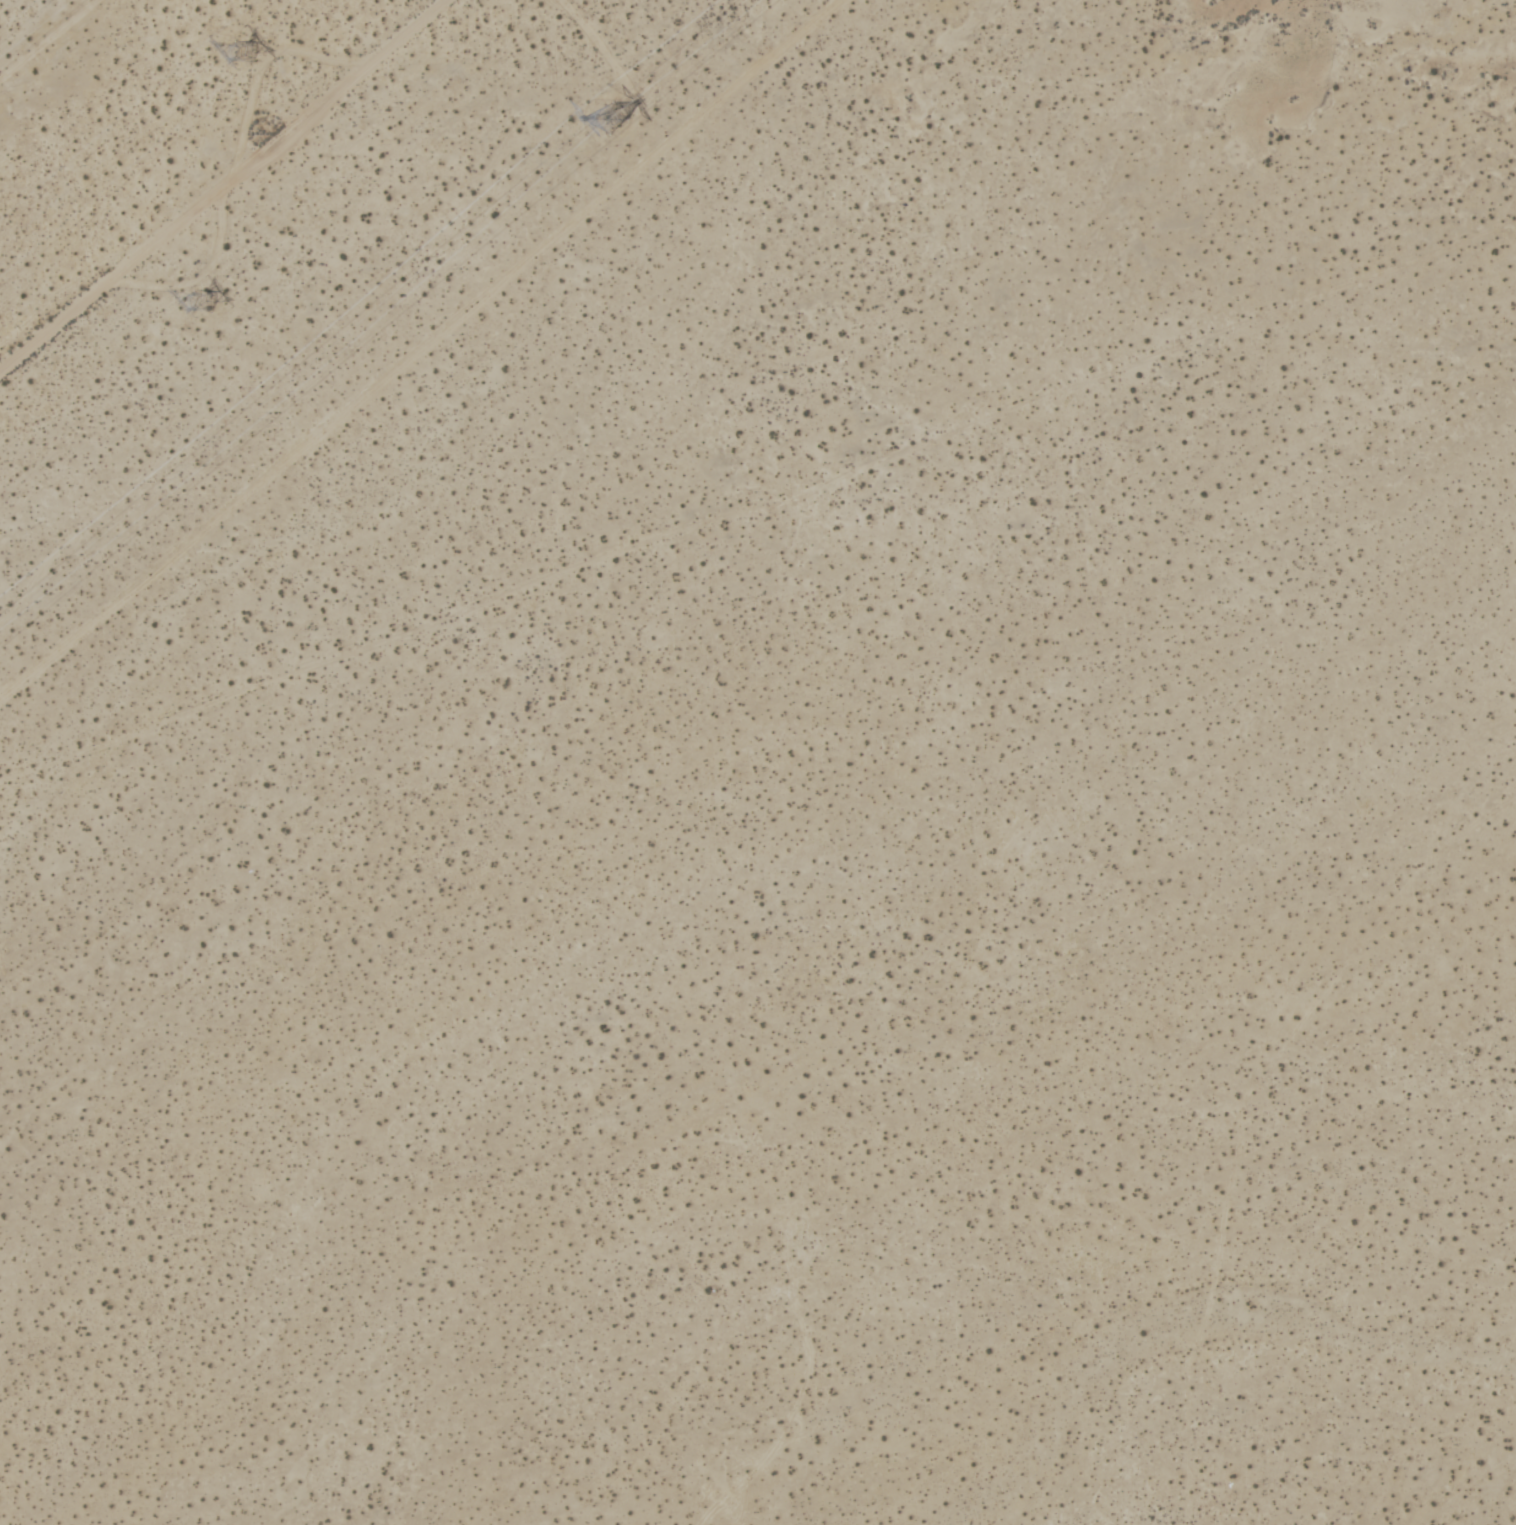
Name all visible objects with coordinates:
power tower: (229, 60)
road: (339, 82)
power tower: (609, 119)
road: (120, 263)
power tower: (204, 305)

